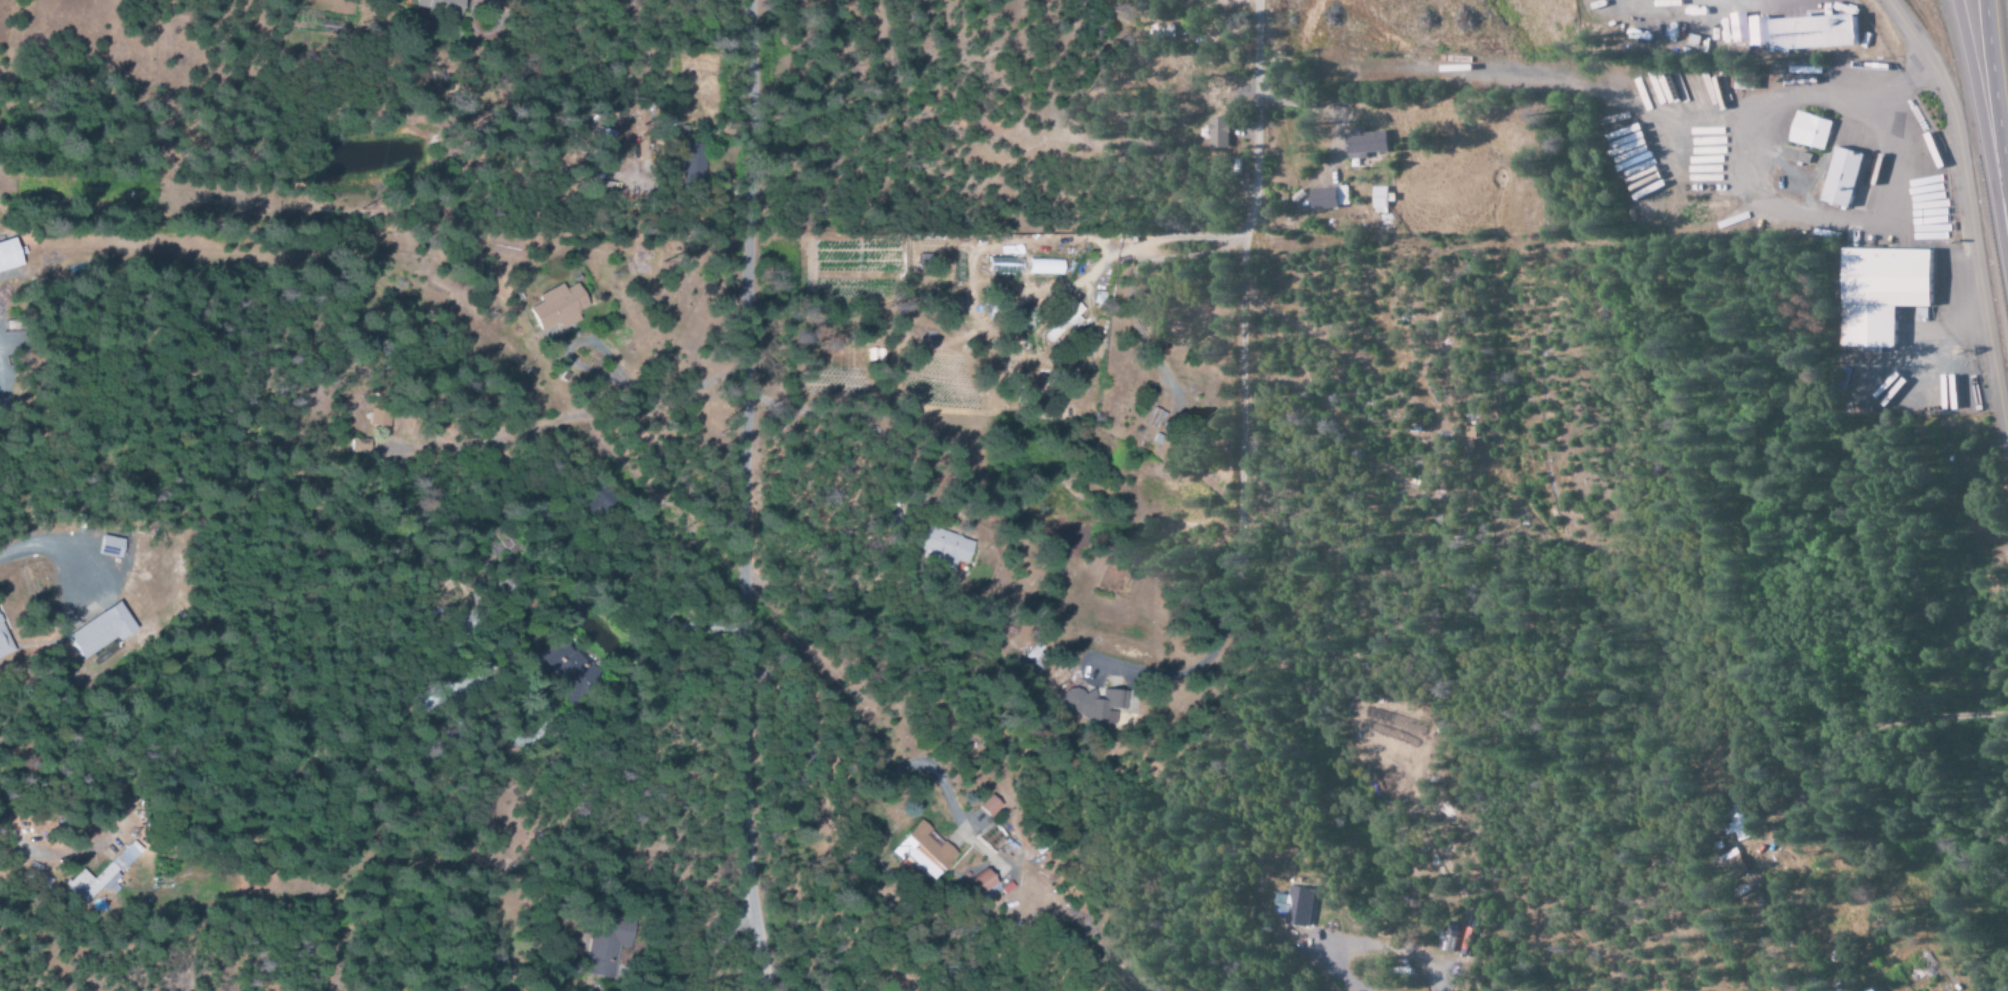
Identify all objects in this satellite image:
building: (439, 5)
building: (1174, 20)
building: (1793, 31)
road: (1251, 102)
road: (1995, 108)
road: (1983, 124)
building: (1807, 130)
building: (1214, 133)
building: (1362, 143)
building: (683, 157)
building: (1839, 177)
building: (1325, 197)
building: (1378, 199)
road: (1967, 224)
building: (10, 253)
building: (1044, 266)
building: (1880, 292)
building: (553, 307)
building: (1062, 325)
building: (917, 331)
building: (1153, 419)
building: (1467, 438)
building: (357, 444)
road: (738, 496)
building: (111, 546)
building: (938, 547)
building: (3, 645)
building: (555, 660)
building: (1087, 705)
building: (990, 804)
building: (1736, 822)
building: (923, 851)
building: (1731, 864)
building: (103, 874)
building: (984, 884)
building: (1293, 905)
building: (1446, 941)
building: (597, 963)

